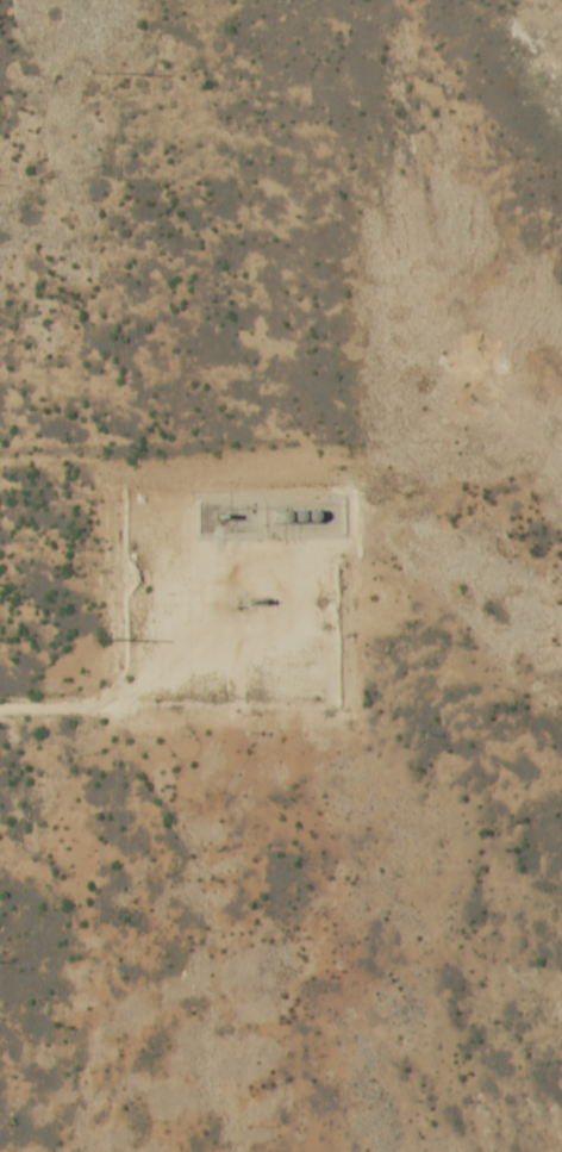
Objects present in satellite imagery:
power tower: (95, 74)
petroleum well: (255, 603)
power tower: (93, 637)

